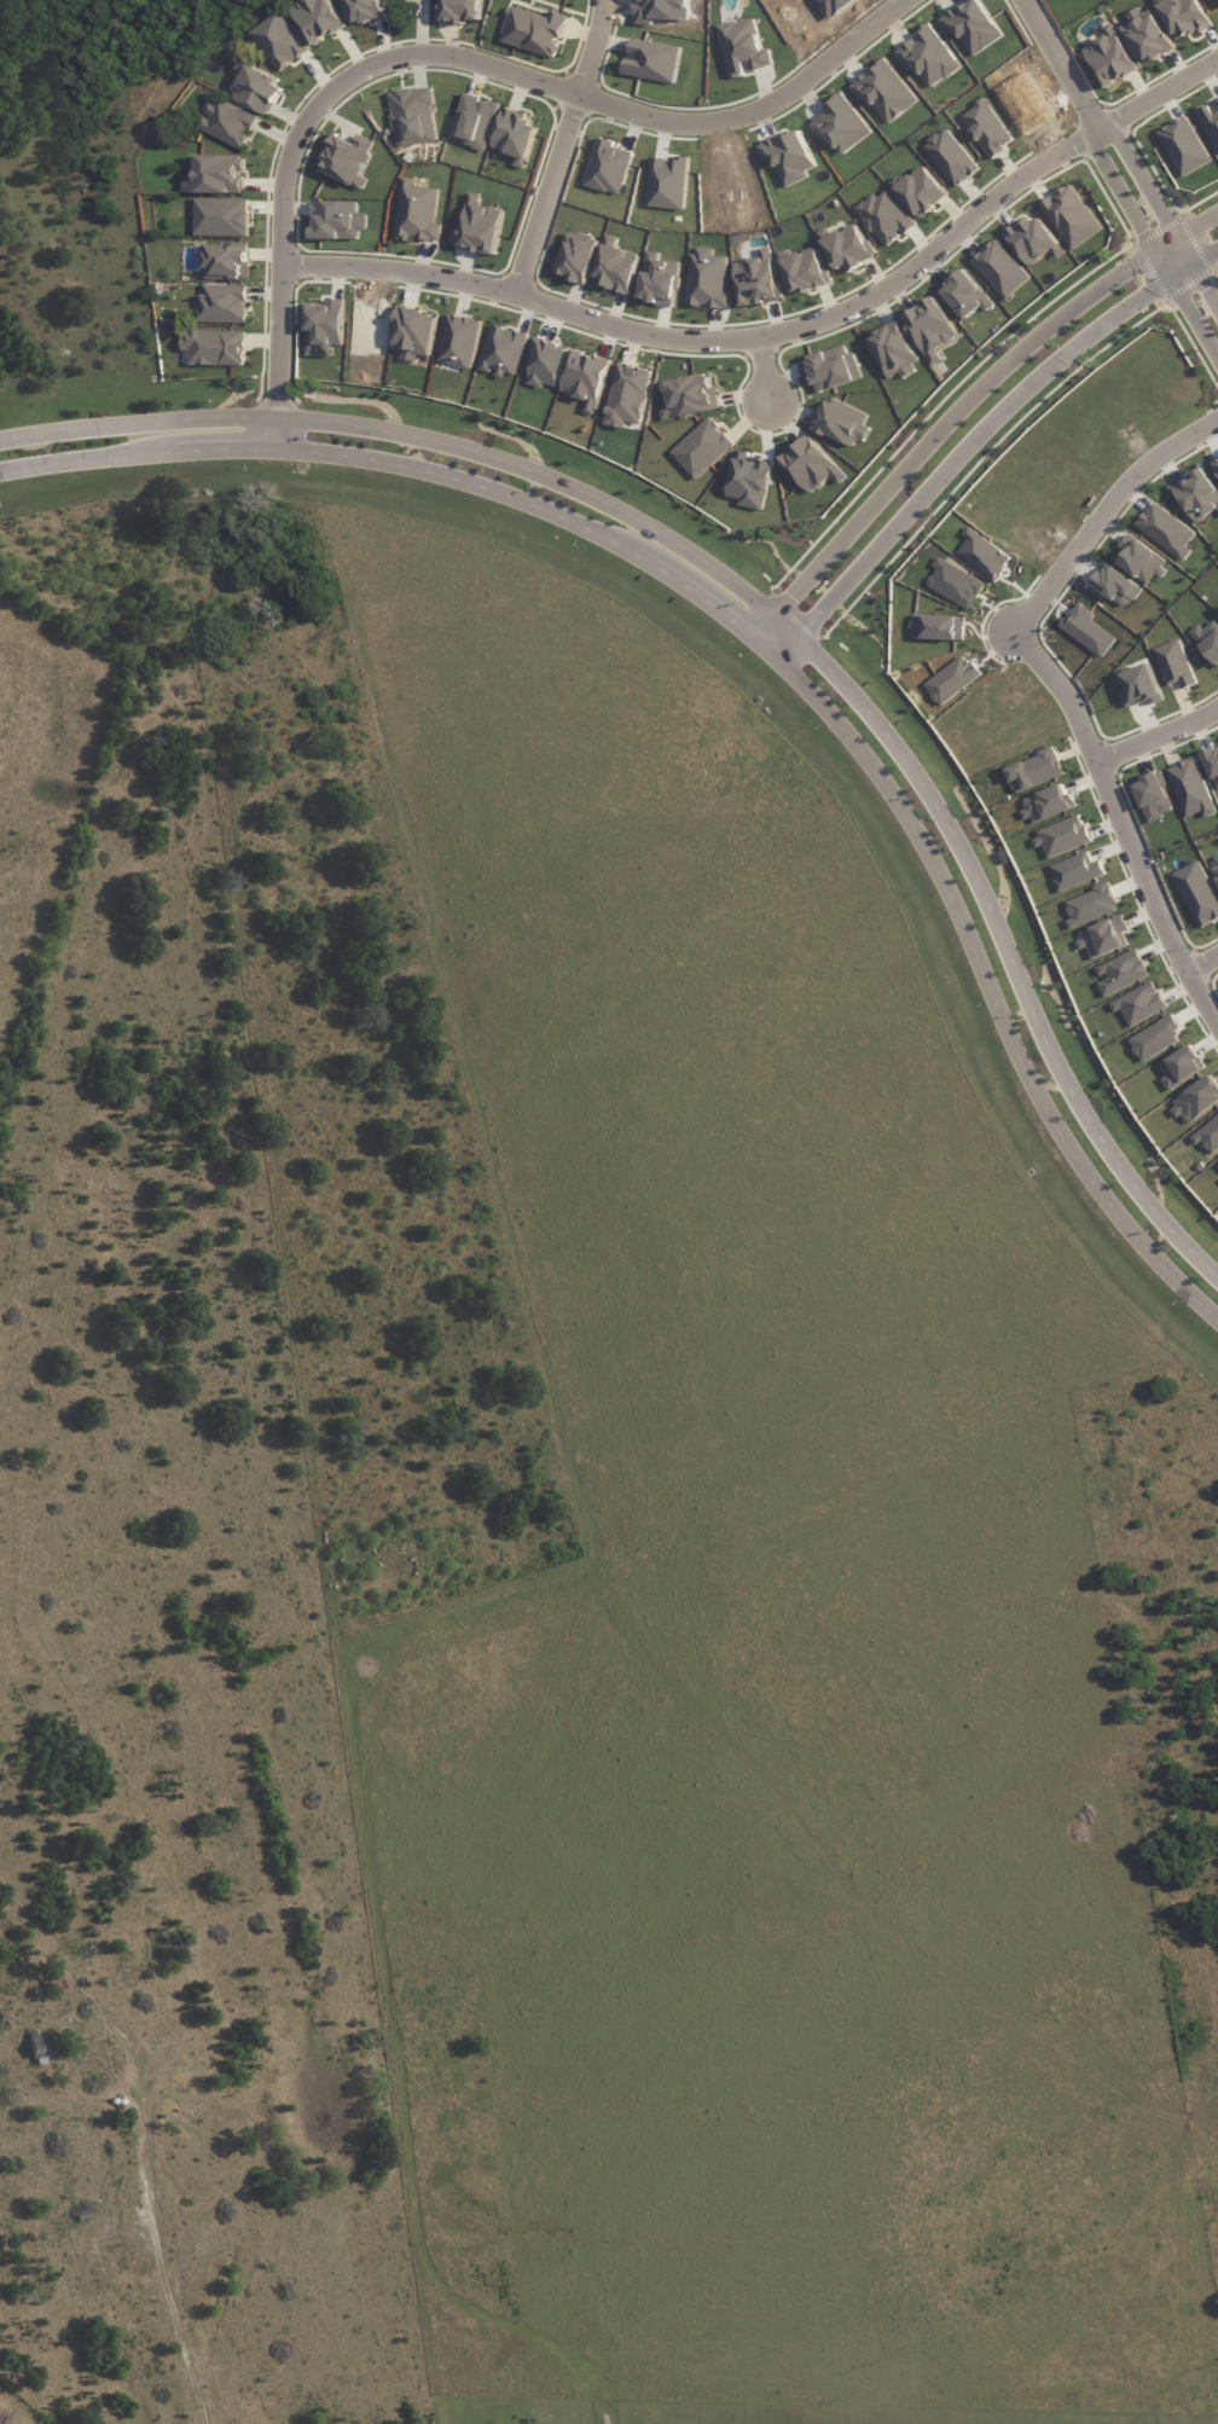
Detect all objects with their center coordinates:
building: (364, 10)
building: (460, 11)
building: (1182, 16)
building: (318, 18)
building: (534, 31)
building: (1147, 37)
building: (279, 41)
road: (588, 46)
building: (743, 47)
road: (449, 54)
building: (928, 56)
building: (1109, 57)
building: (257, 89)
building: (883, 91)
building: (228, 122)
building: (840, 124)
building: (987, 128)
road: (1102, 134)
building: (516, 135)
building: (789, 157)
building: (950, 157)
building: (348, 158)
building: (215, 175)
building: (921, 191)
road: (545, 195)
building: (417, 211)
building: (1071, 216)
building: (221, 218)
building: (478, 227)
building: (1032, 239)
building: (848, 248)
building: (575, 257)
building: (225, 262)
building: (615, 267)
building: (804, 271)
building: (707, 279)
building: (758, 279)
building: (965, 295)
road: (1200, 301)
building: (222, 305)
building: (324, 326)
building: (930, 329)
road: (781, 330)
building: (413, 332)
building: (457, 341)
building: (215, 347)
building: (893, 350)
building: (501, 352)
building: (833, 367)
road: (765, 369)
building: (586, 378)
building: (627, 395)
building: (690, 396)
road: (965, 405)
building: (841, 422)
road: (980, 437)
building: (702, 447)
building: (1216, 462)
building: (811, 465)
building: (1197, 495)
road: (1100, 510)
building: (1166, 530)
building: (1139, 559)
building: (1114, 586)
road: (767, 609)
building: (1086, 630)
road: (765, 654)
building: (1174, 663)
building: (1141, 680)
road: (1155, 736)
building: (1212, 764)
building: (1033, 771)
building: (1190, 789)
building: (1153, 796)
building: (1048, 804)
road: (1120, 827)
building: (1061, 836)
building: (1214, 869)
building: (1090, 905)
building: (1103, 936)
road: (1199, 953)
building: (1120, 972)
building: (1138, 1003)
building: (1155, 1038)
building: (1181, 1067)
building: (1196, 1101)
building: (1208, 1136)
building: (40, 2045)
road: (187, 2226)

